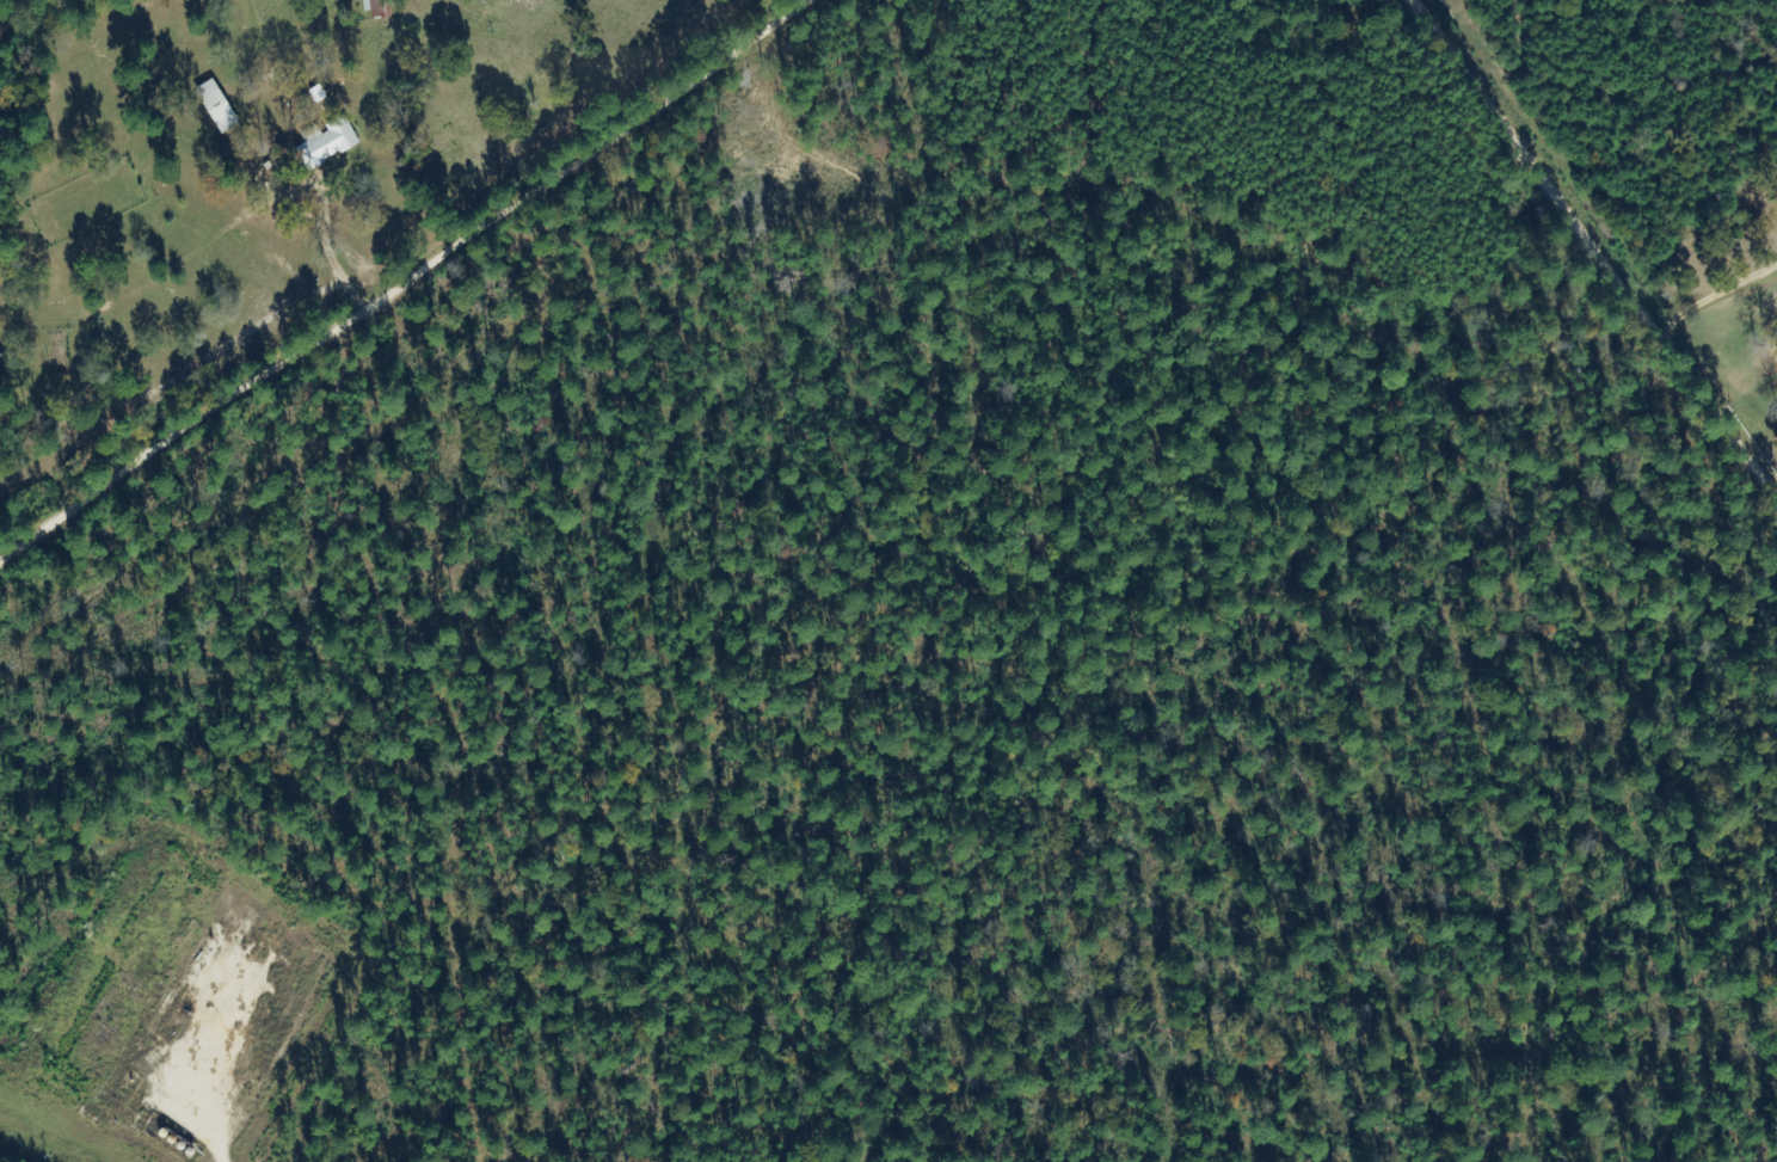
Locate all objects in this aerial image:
building: (376, 8)
building: (215, 106)
building: (325, 143)
road: (1592, 257)
road: (374, 259)

